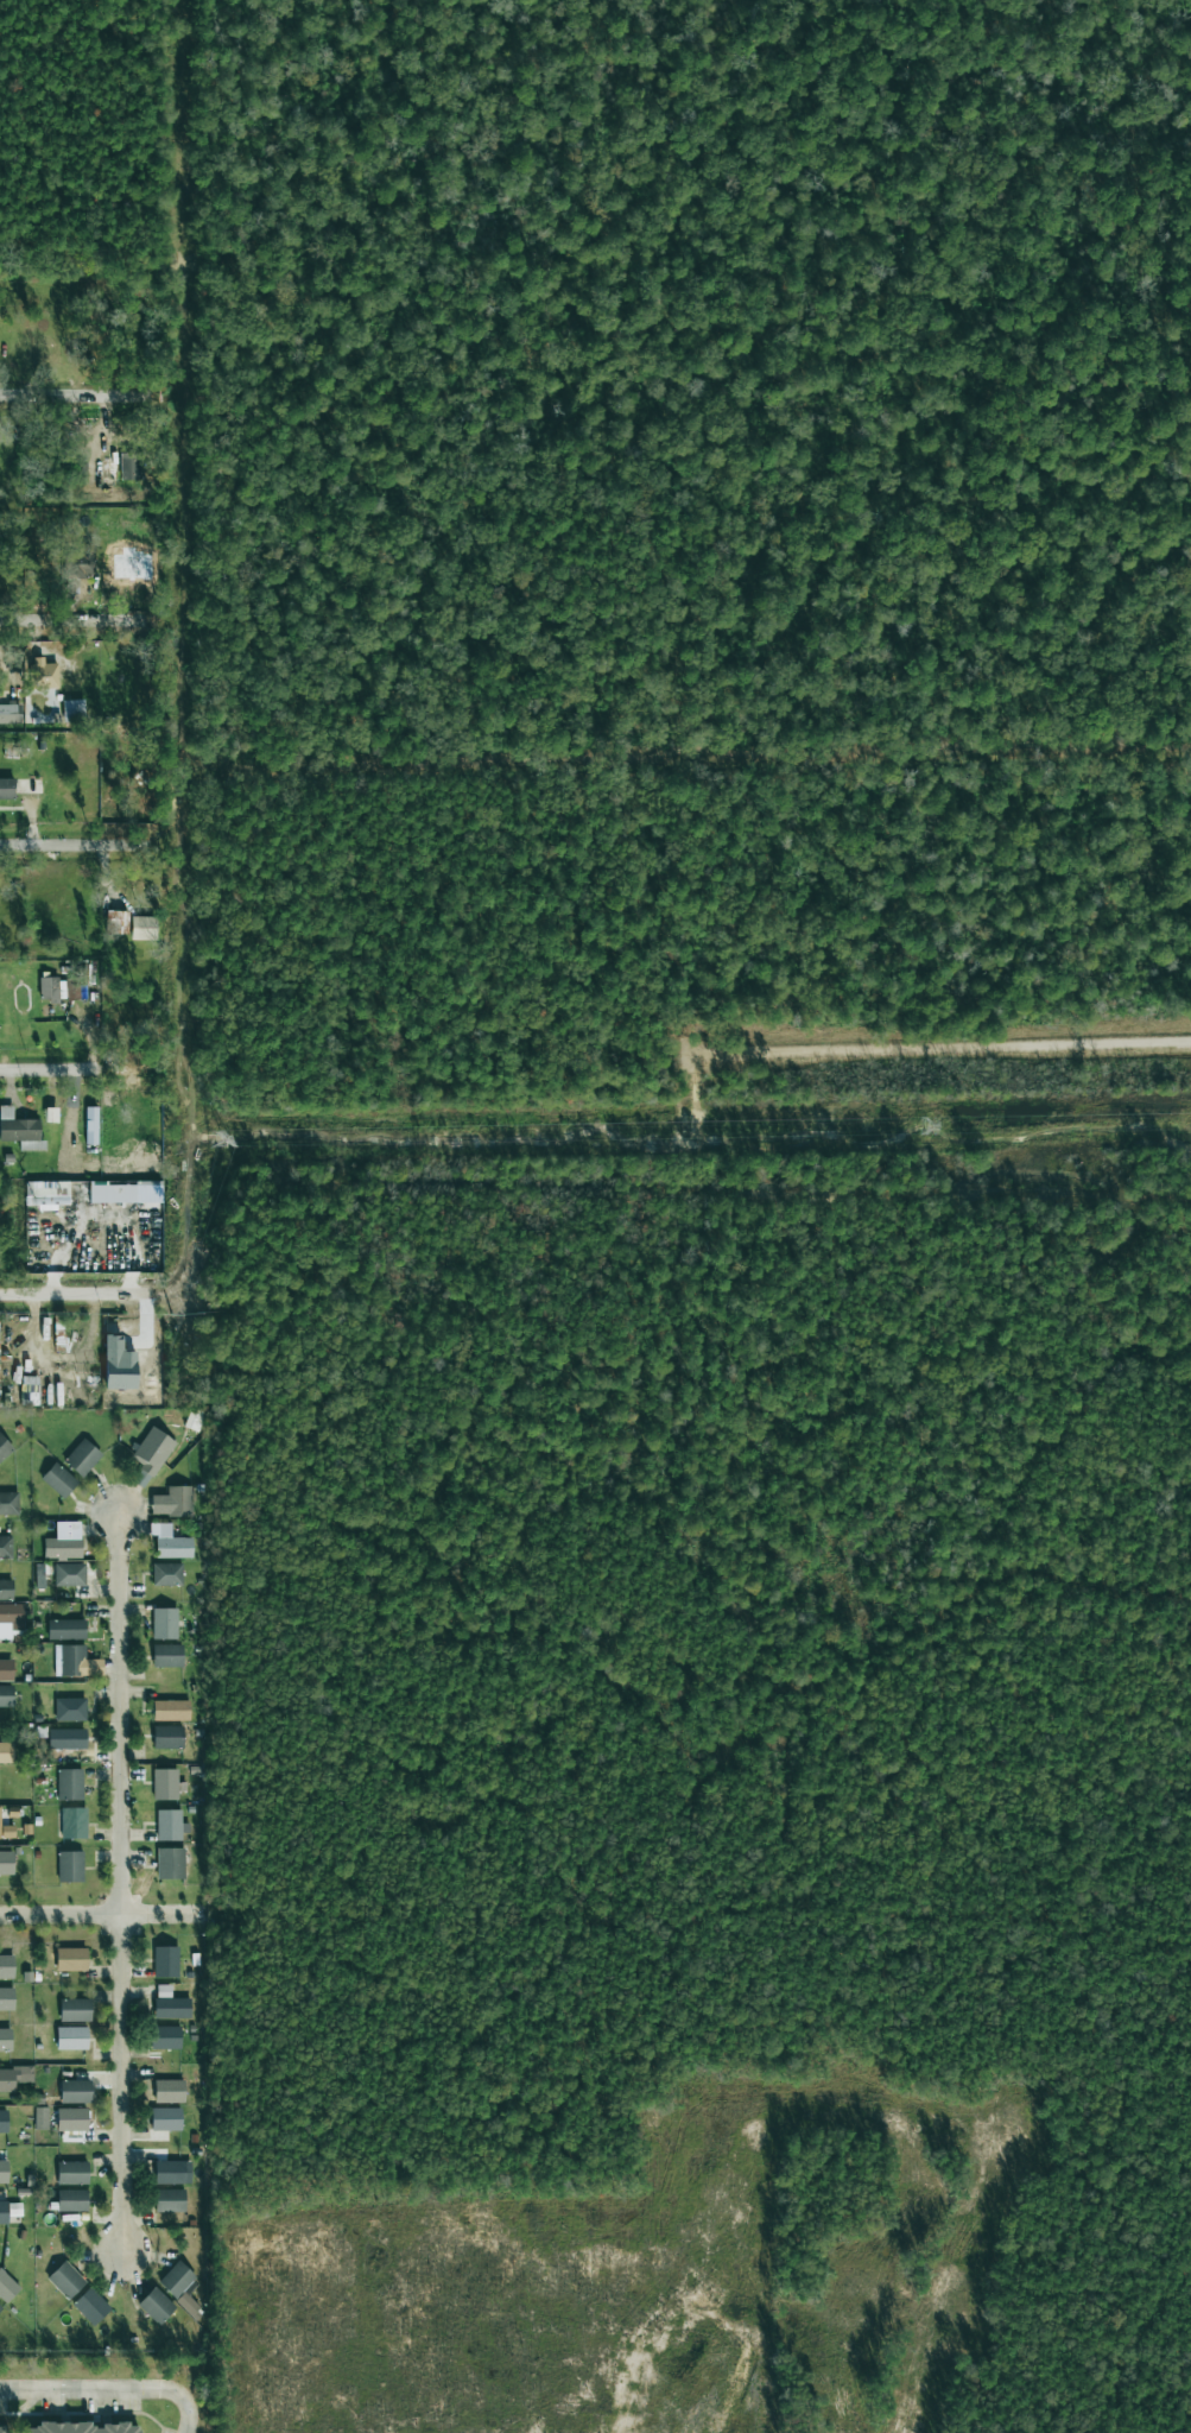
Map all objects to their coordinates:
road: (183, 198)
road: (53, 394)
building: (129, 466)
building: (81, 562)
road: (62, 618)
building: (44, 674)
building: (74, 710)
building: (14, 713)
building: (6, 788)
road: (65, 846)
road: (184, 852)
building: (115, 922)
building: (142, 927)
building: (75, 980)
building: (49, 988)
road: (946, 1049)
road: (61, 1069)
power tower: (923, 1126)
building: (19, 1129)
power tower: (217, 1140)
road: (476, 1142)
building: (49, 1192)
building: (125, 1193)
road: (75, 1289)
building: (118, 1364)
building: (5, 1447)
building: (151, 1454)
building: (82, 1456)
building: (58, 1479)
building: (179, 1500)
building: (8, 1503)
building: (170, 1542)
building: (5, 1547)
building: (62, 1548)
building: (69, 1573)
building: (166, 1573)
building: (6, 1588)
building: (11, 1619)
building: (164, 1623)
building: (65, 1629)
building: (167, 1655)
building: (75, 1661)
building: (6, 1669)
building: (6, 1695)
building: (70, 1708)
building: (171, 1710)
building: (169, 1737)
building: (65, 1738)
building: (6, 1751)
building: (69, 1783)
building: (165, 1783)
building: (74, 1822)
building: (169, 1824)
building: (6, 1830)
building: (6, 1862)
building: (170, 1863)
building: (70, 1865)
road: (121, 1884)
road: (103, 1915)
building: (70, 1958)
building: (165, 1960)
building: (6, 1966)
building: (6, 1998)
building: (170, 2003)
building: (74, 2009)
building: (165, 2036)
building: (71, 2037)
building: (5, 2039)
building: (14, 2077)
building: (169, 2090)
building: (75, 2091)
building: (72, 2118)
building: (166, 2118)
building: (4, 2121)
building: (4, 2170)
building: (72, 2172)
building: (171, 2172)
building: (71, 2200)
building: (170, 2200)
building: (8, 2210)
building: (65, 2279)
building: (177, 2279)
building: (7, 2286)
building: (90, 2305)
building: (156, 2306)
building: (190, 2306)
building: (0, 2307)
road: (109, 2390)
building: (83, 2427)
building: (1, 2429)

